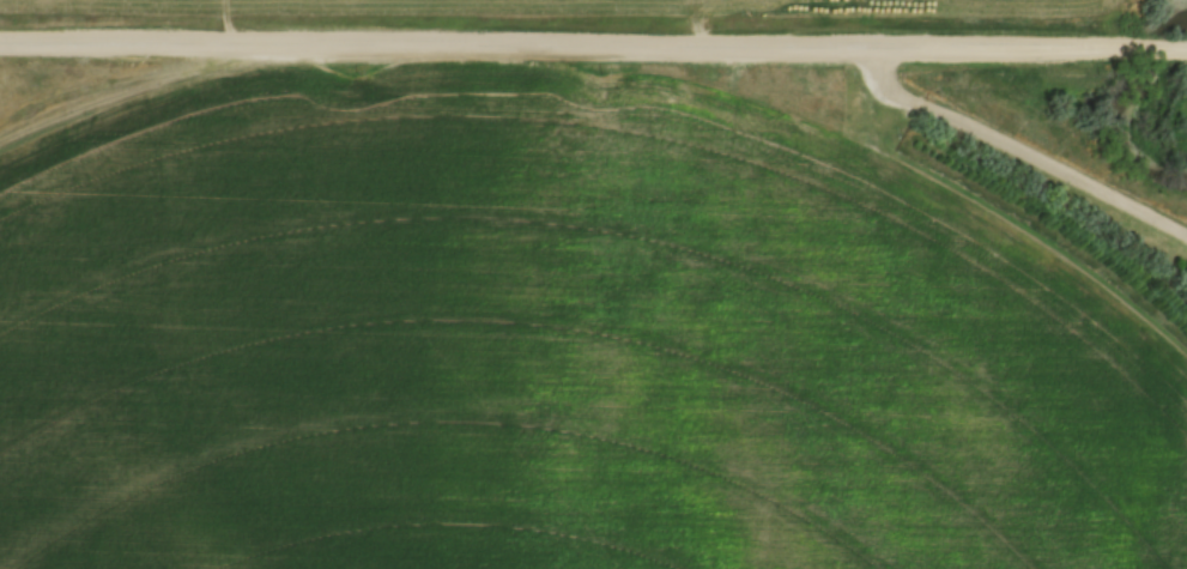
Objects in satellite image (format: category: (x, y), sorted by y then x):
crop: (643, 7)
road: (593, 41)
road: (1017, 149)
crop: (555, 341)

